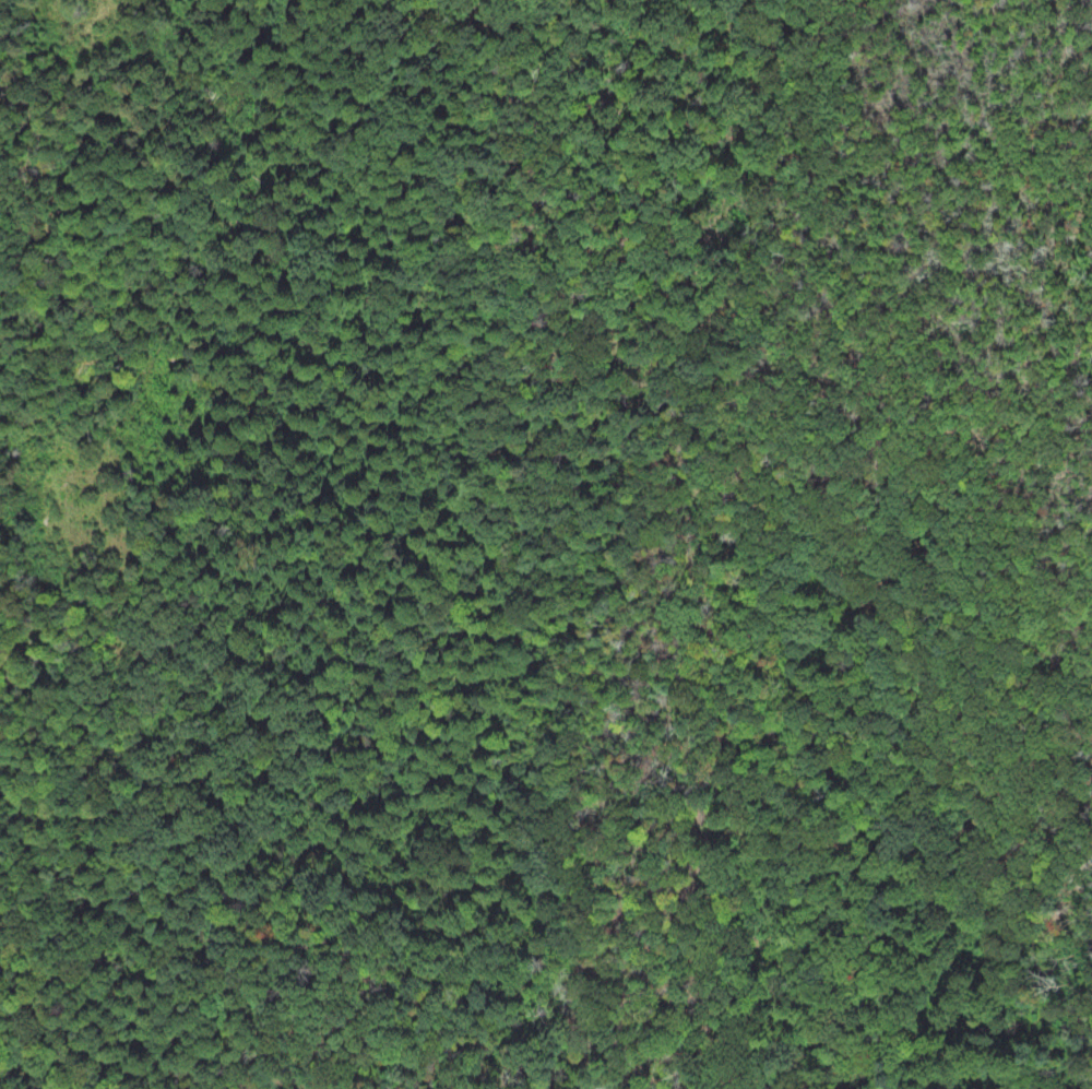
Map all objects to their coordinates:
road: (1014, 1053)

